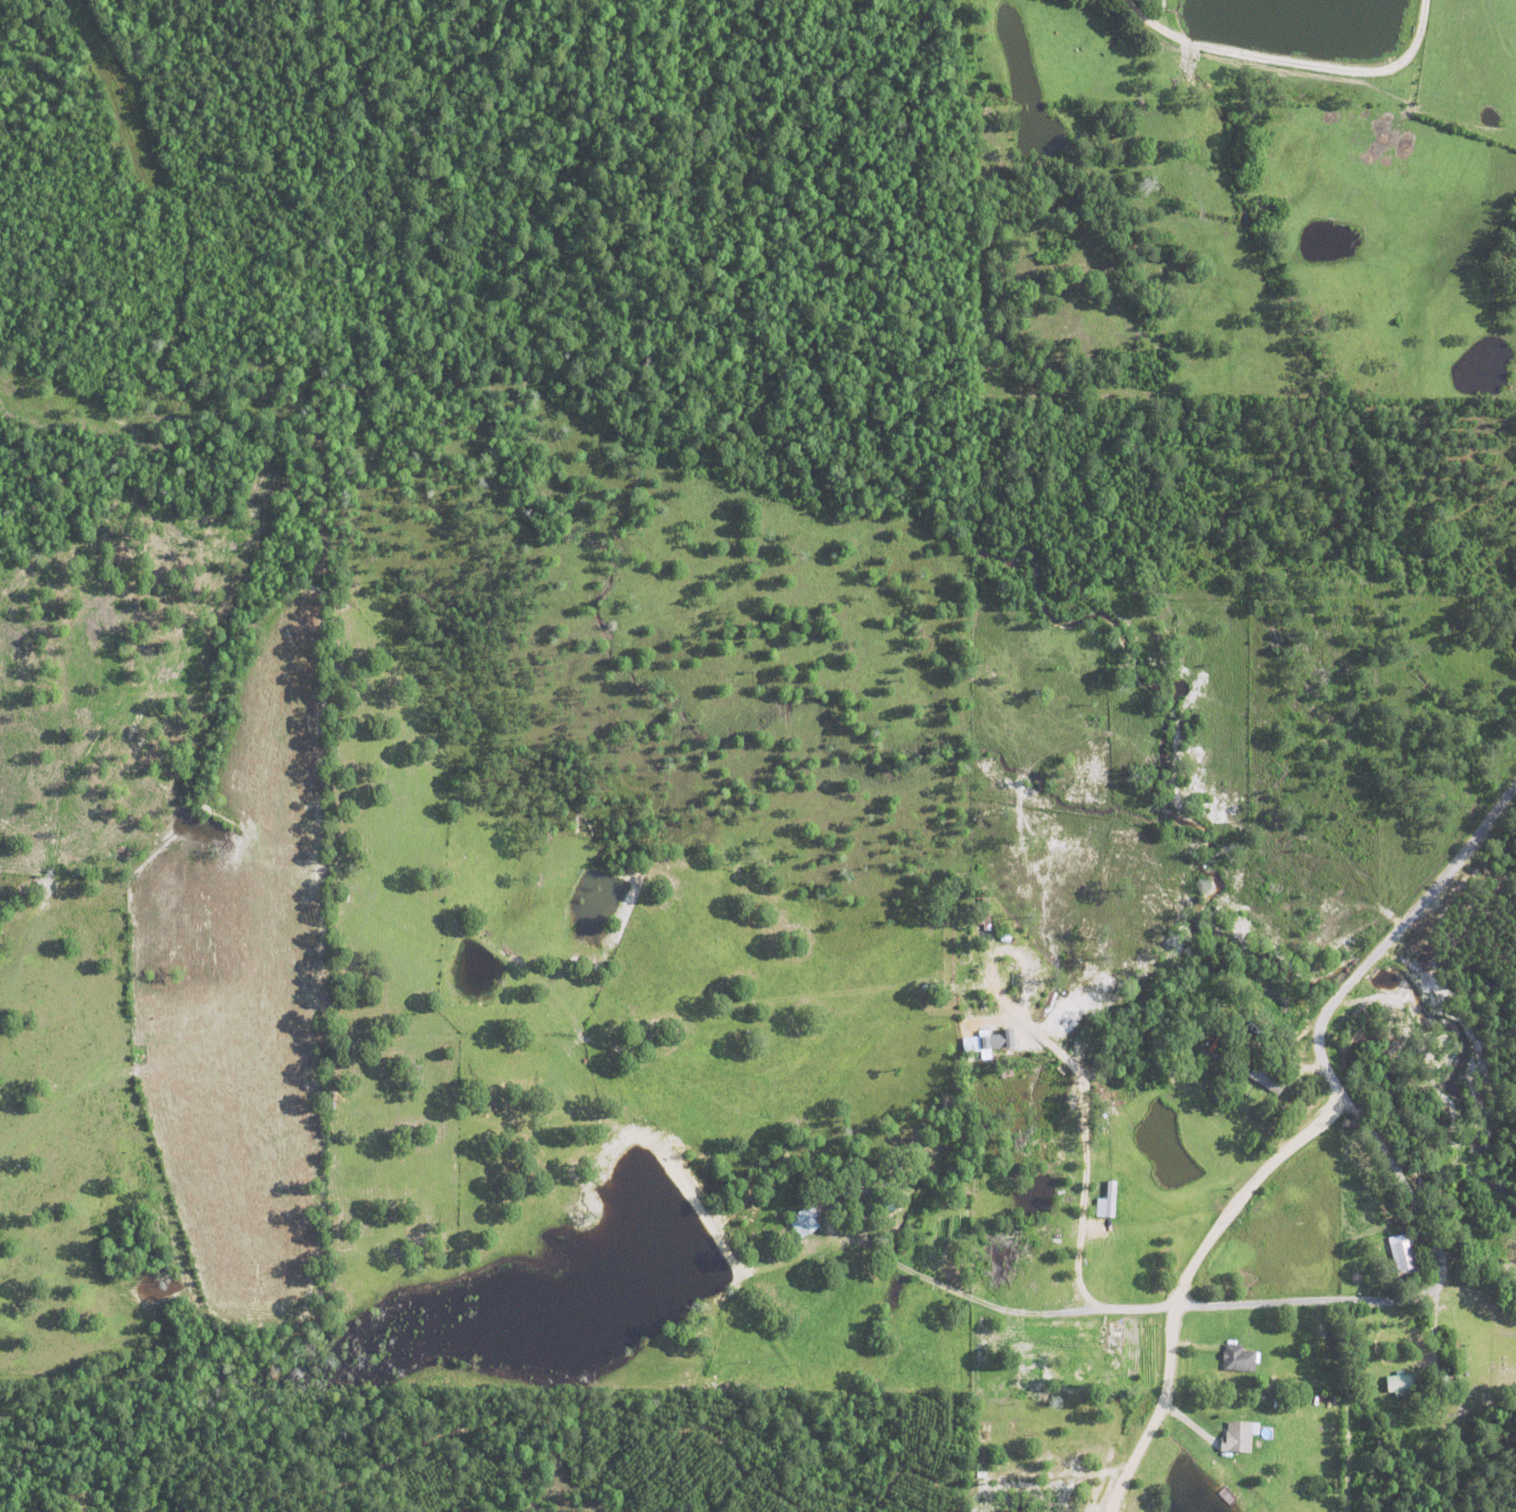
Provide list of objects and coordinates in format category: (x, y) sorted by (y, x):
building: (975, 1042)
building: (1271, 1077)
building: (1106, 1201)
building: (804, 1220)
building: (1406, 1261)
road: (1184, 1277)
road: (1440, 1280)
building: (1239, 1357)
building: (1403, 1381)
building: (1292, 1401)
building: (1238, 1436)
building: (1046, 1438)

